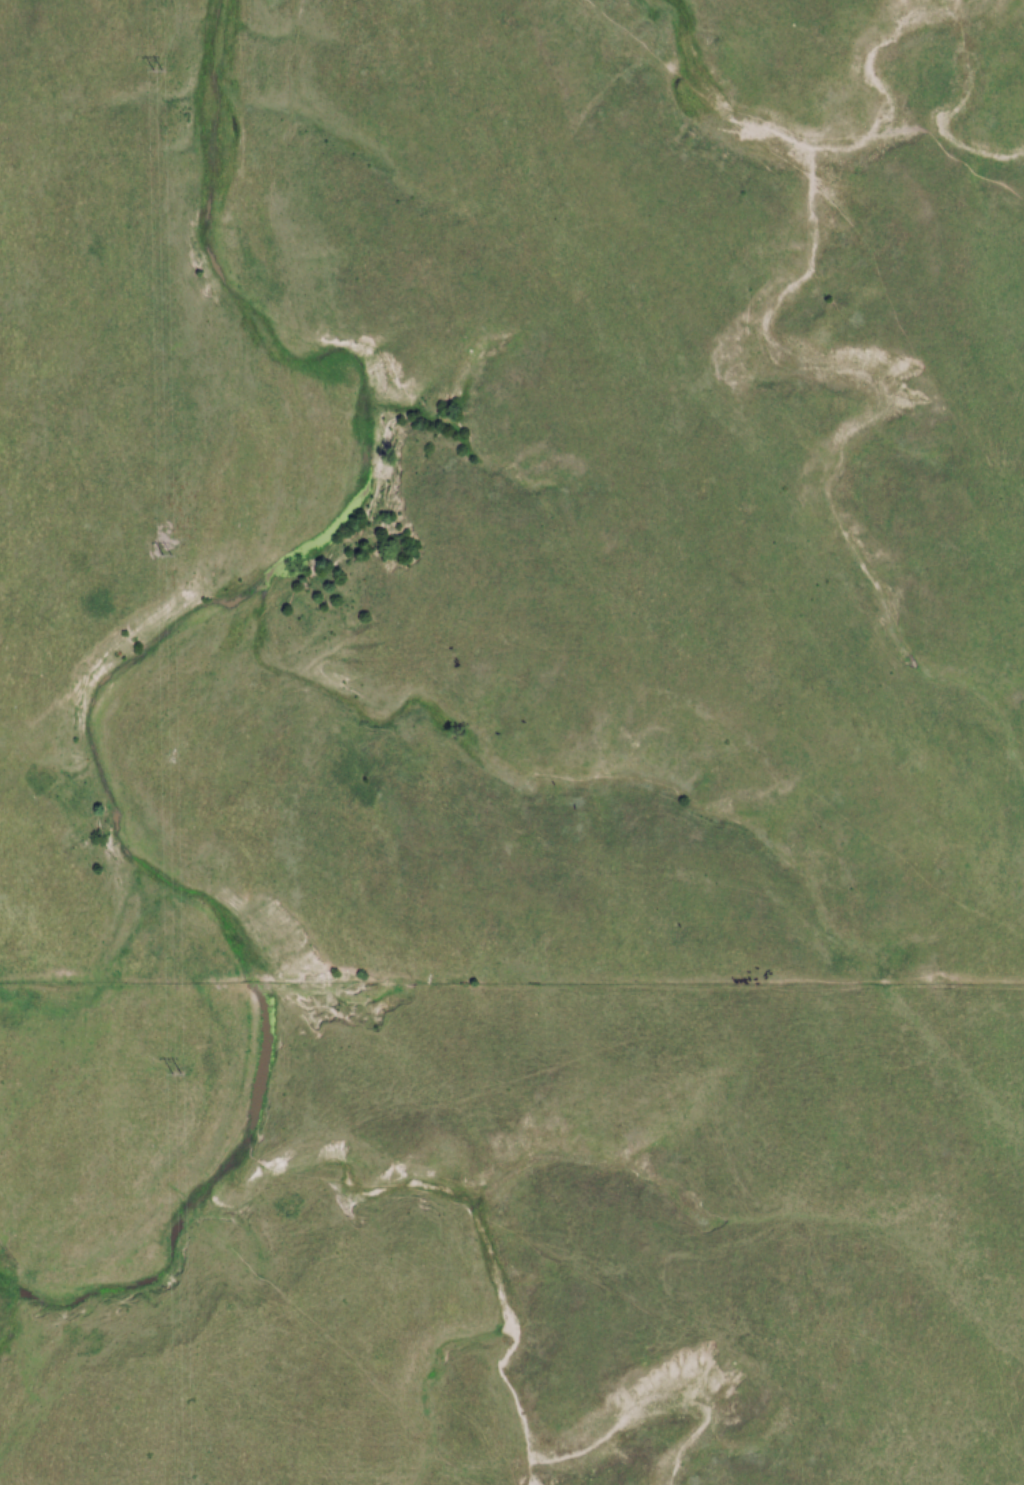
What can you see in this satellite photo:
power tower: (157, 71)
power tower: (168, 557)
power tower: (178, 1075)

